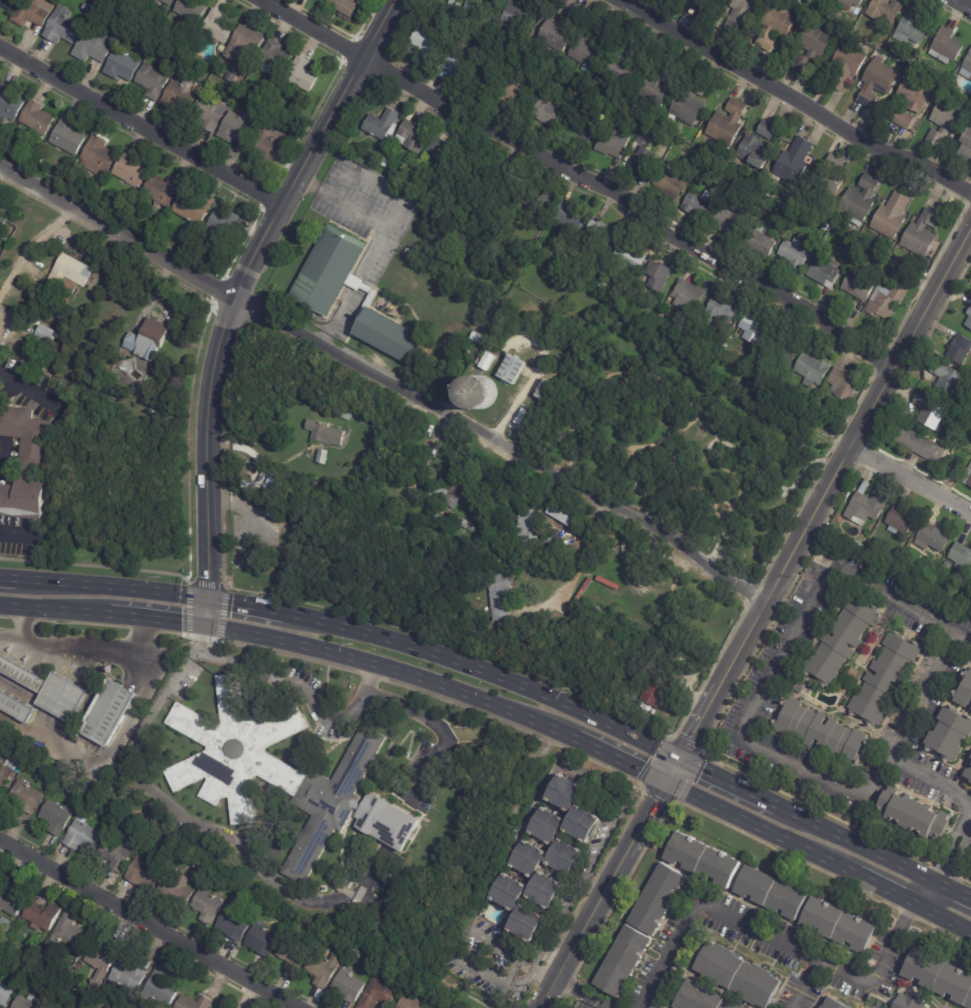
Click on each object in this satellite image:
building: (497, 0)
road: (968, 1)
building: (97, 2)
building: (154, 2)
building: (170, 2)
building: (9, 3)
building: (693, 4)
building: (848, 4)
building: (346, 6)
building: (467, 8)
building: (88, 9)
building: (885, 9)
building: (193, 11)
building: (34, 12)
building: (126, 14)
building: (739, 14)
building: (513, 15)
building: (64, 26)
building: (774, 26)
building: (556, 27)
building: (218, 28)
building: (908, 29)
building: (426, 44)
building: (247, 46)
building: (809, 46)
building: (94, 47)
building: (945, 47)
building: (222, 48)
building: (628, 49)
building: (583, 50)
building: (276, 58)
building: (902, 61)
building: (451, 65)
building: (124, 66)
building: (845, 66)
building: (966, 68)
building: (618, 70)
building: (304, 75)
building: (233, 76)
building: (215, 77)
building: (483, 77)
building: (156, 80)
building: (874, 82)
building: (654, 83)
building: (182, 94)
building: (913, 94)
building: (512, 96)
road: (793, 100)
building: (687, 102)
building: (10, 103)
building: (211, 113)
building: (547, 113)
building: (39, 118)
building: (901, 119)
building: (945, 122)
building: (726, 124)
building: (380, 125)
road: (141, 127)
building: (239, 127)
building: (764, 130)
building: (582, 134)
building: (69, 137)
building: (410, 137)
building: (646, 138)
building: (268, 144)
building: (610, 144)
building: (965, 147)
building: (435, 148)
building: (750, 152)
building: (99, 157)
building: (40, 160)
building: (642, 161)
building: (792, 162)
building: (383, 163)
building: (475, 169)
building: (132, 170)
building: (827, 175)
road: (578, 182)
building: (667, 182)
building: (510, 187)
building: (163, 190)
building: (858, 199)
building: (537, 203)
building: (695, 205)
building: (195, 207)
building: (567, 216)
building: (890, 216)
building: (725, 222)
building: (3, 224)
building: (223, 225)
building: (599, 232)
building: (920, 234)
building: (757, 243)
building: (826, 244)
building: (792, 254)
building: (628, 260)
building: (822, 271)
building: (70, 273)
building: (657, 276)
building: (907, 277)
building: (600, 283)
building: (858, 287)
road: (232, 293)
building: (686, 294)
building: (310, 295)
building: (882, 304)
building: (718, 312)
building: (968, 318)
building: (750, 328)
building: (48, 335)
building: (474, 336)
building: (148, 340)
building: (784, 345)
building: (958, 350)
building: (485, 362)
building: (511, 370)
building: (810, 370)
road: (602, 377)
building: (948, 381)
road: (384, 382)
building: (841, 385)
parking lot: (36, 386)
road: (28, 390)
building: (542, 391)
building: (478, 392)
building: (343, 413)
road: (706, 413)
building: (930, 413)
building: (28, 436)
park: (682, 438)
building: (323, 439)
road: (430, 442)
building: (919, 446)
road: (773, 476)
road: (911, 478)
building: (967, 478)
road: (663, 490)
building: (462, 493)
building: (437, 494)
building: (27, 500)
road: (761, 507)
road: (818, 508)
building: (864, 508)
building: (557, 517)
building: (899, 520)
building: (464, 525)
building: (524, 526)
road: (14, 532)
parking lot: (20, 537)
building: (930, 538)
building: (547, 545)
building: (856, 545)
road: (582, 552)
parking lot: (721, 554)
building: (960, 557)
building: (892, 560)
road: (6, 582)
road: (109, 591)
building: (498, 596)
road: (909, 597)
traffic signals: (206, 599)
building: (661, 600)
building: (965, 603)
road: (10, 607)
road: (245, 607)
road: (62, 611)
road: (154, 621)
road: (18, 623)
traffic signals: (205, 627)
road: (8, 636)
building: (839, 640)
road: (93, 652)
road: (393, 671)
building: (701, 672)
building: (23, 673)
road: (486, 675)
building: (883, 678)
road: (299, 686)
building: (798, 687)
building: (651, 693)
building: (965, 693)
building: (65, 696)
road: (750, 704)
building: (16, 706)
building: (111, 711)
road: (442, 731)
building: (817, 731)
road: (903, 731)
building: (949, 733)
road: (105, 753)
building: (970, 757)
traffic signals: (680, 760)
road: (621, 761)
building: (269, 769)
building: (6, 774)
building: (968, 775)
road: (876, 780)
road: (727, 782)
traffic signals: (666, 785)
road: (540, 792)
building: (27, 796)
building: (574, 808)
building: (910, 814)
building: (58, 816)
road: (205, 829)
road: (759, 831)
building: (84, 836)
building: (557, 842)
road: (854, 844)
road: (953, 850)
building: (119, 853)
building: (530, 859)
building: (702, 860)
building: (202, 866)
building: (146, 873)
building: (553, 889)
road: (953, 889)
building: (178, 890)
building: (254, 892)
building: (770, 893)
road: (884, 894)
road: (926, 895)
road: (604, 896)
building: (11, 897)
building: (209, 906)
building: (521, 907)
building: (289, 913)
building: (43, 915)
building: (235, 921)
road: (149, 923)
road: (943, 923)
building: (6, 925)
building: (836, 926)
building: (639, 930)
building: (70, 932)
building: (264, 940)
road: (488, 941)
road: (774, 942)
building: (10, 945)
building: (344, 951)
building: (356, 952)
building: (294, 954)
building: (103, 962)
building: (59, 964)
building: (324, 969)
road: (509, 969)
building: (735, 973)
building: (130, 975)
building: (0, 977)
building: (938, 977)
road: (807, 985)
building: (351, 986)
building: (163, 989)
building: (6, 994)
building: (379, 994)
road: (581, 994)
building: (702, 997)
building: (908, 1001)
building: (27, 1002)
building: (196, 1002)
building: (412, 1003)
building: (830, 1004)
building: (439, 1005)
building: (59, 1006)
building: (233, 1007)
building: (236, 1007)

